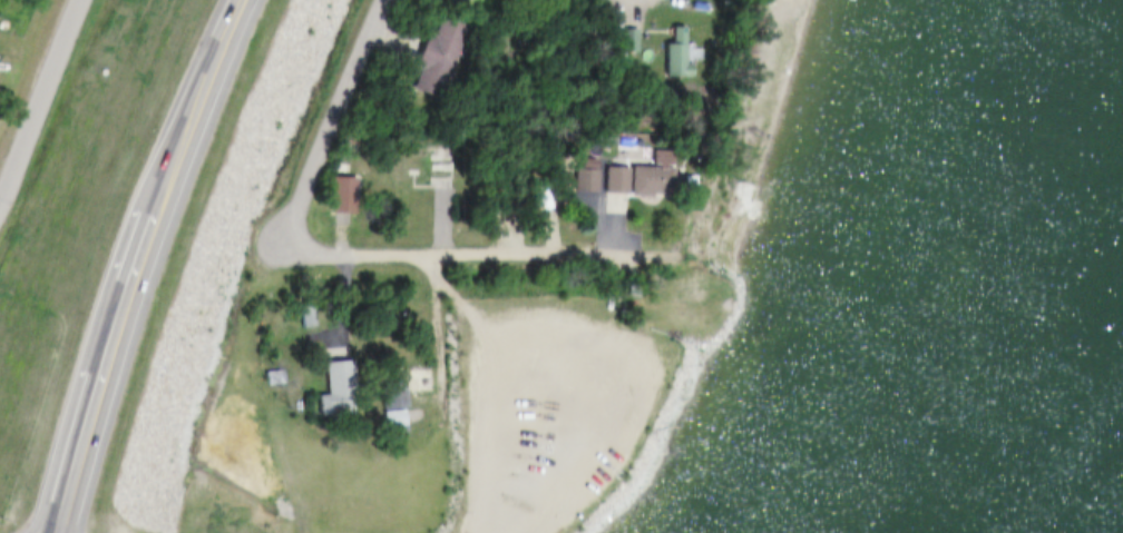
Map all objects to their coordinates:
building: (621, 37)
building: (665, 49)
building: (428, 52)
building: (680, 56)
road: (253, 113)
road: (165, 121)
road: (332, 121)
building: (424, 169)
building: (575, 174)
building: (626, 178)
building: (656, 178)
building: (589, 181)
building: (335, 194)
road: (62, 247)
road: (430, 249)
building: (297, 315)
building: (329, 375)
road: (168, 379)
building: (392, 383)
building: (341, 389)

